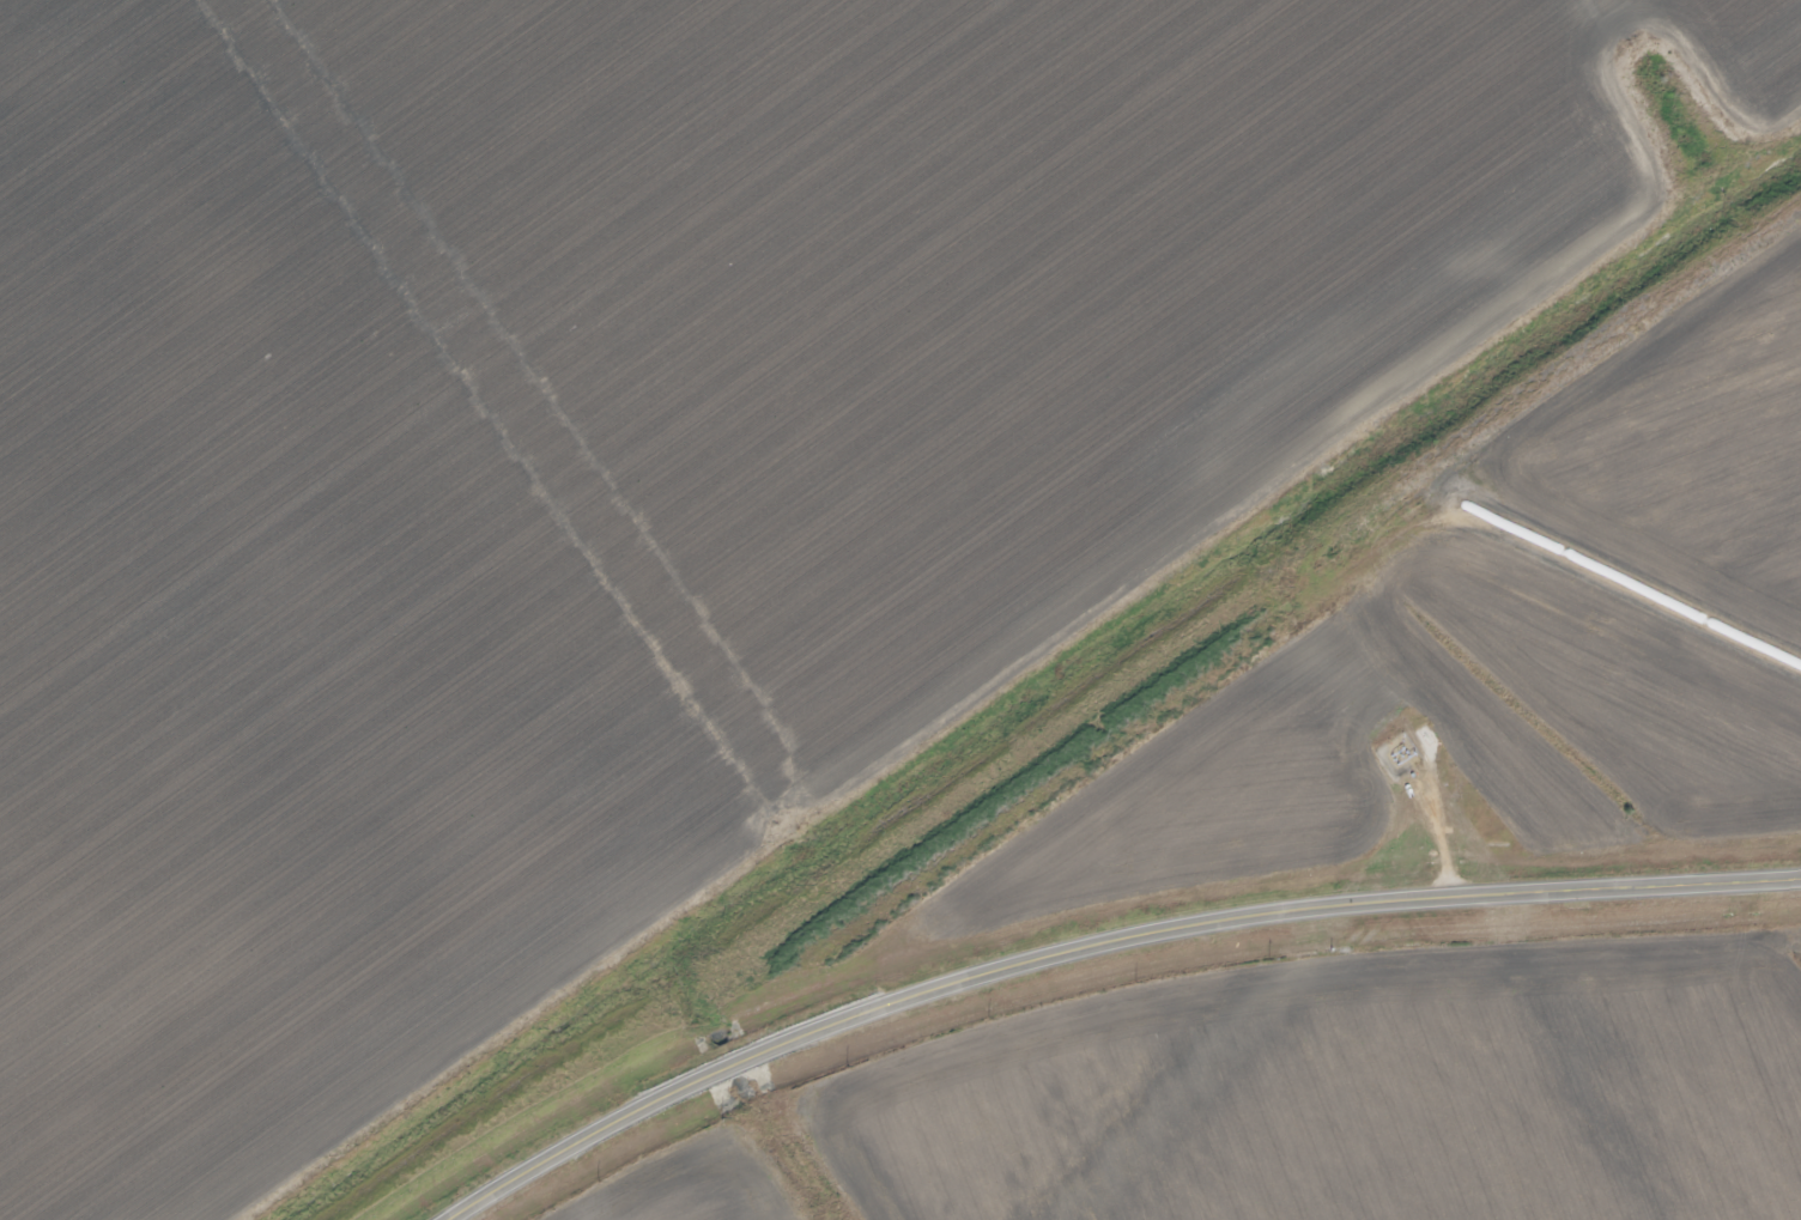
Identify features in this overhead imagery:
road: (1653, 582)
road: (1097, 945)

